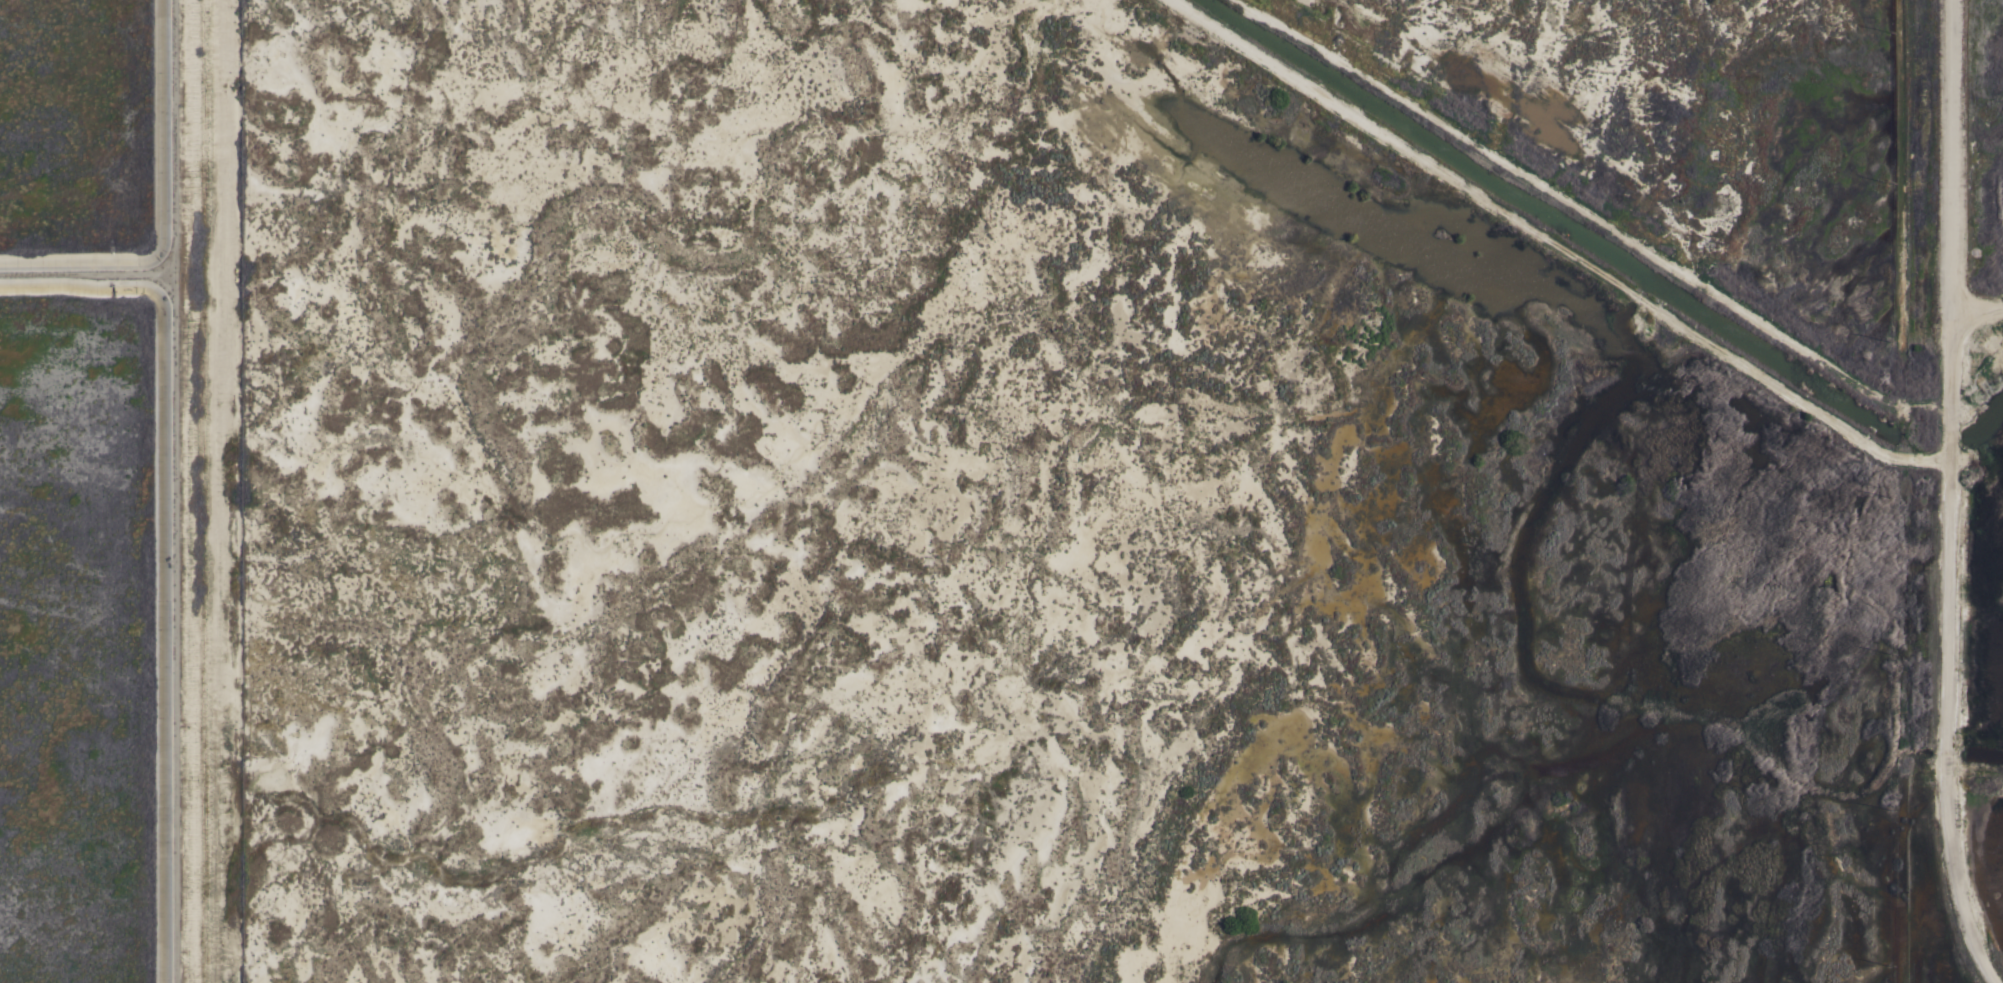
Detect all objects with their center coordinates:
road: (1900, 133)
road: (1977, 312)
road: (1949, 434)
road: (1967, 927)

